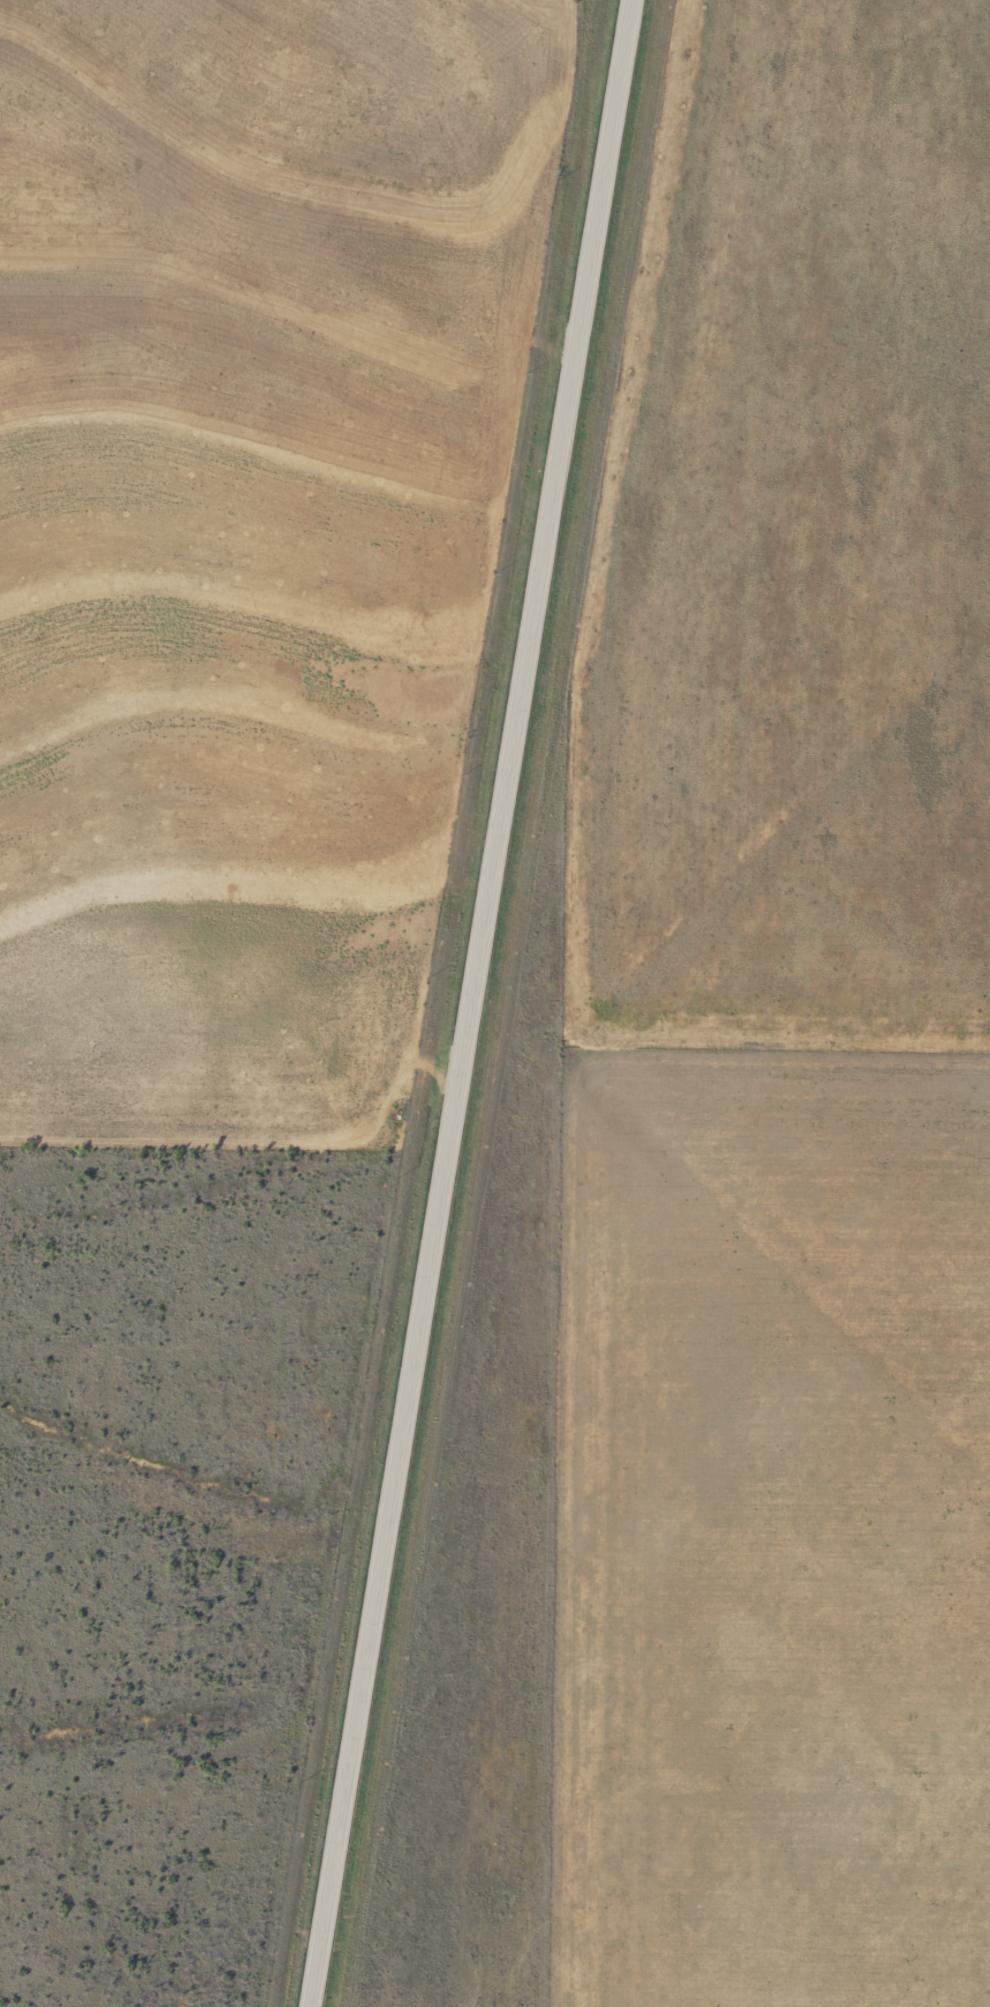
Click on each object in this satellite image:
road: (473, 1003)

